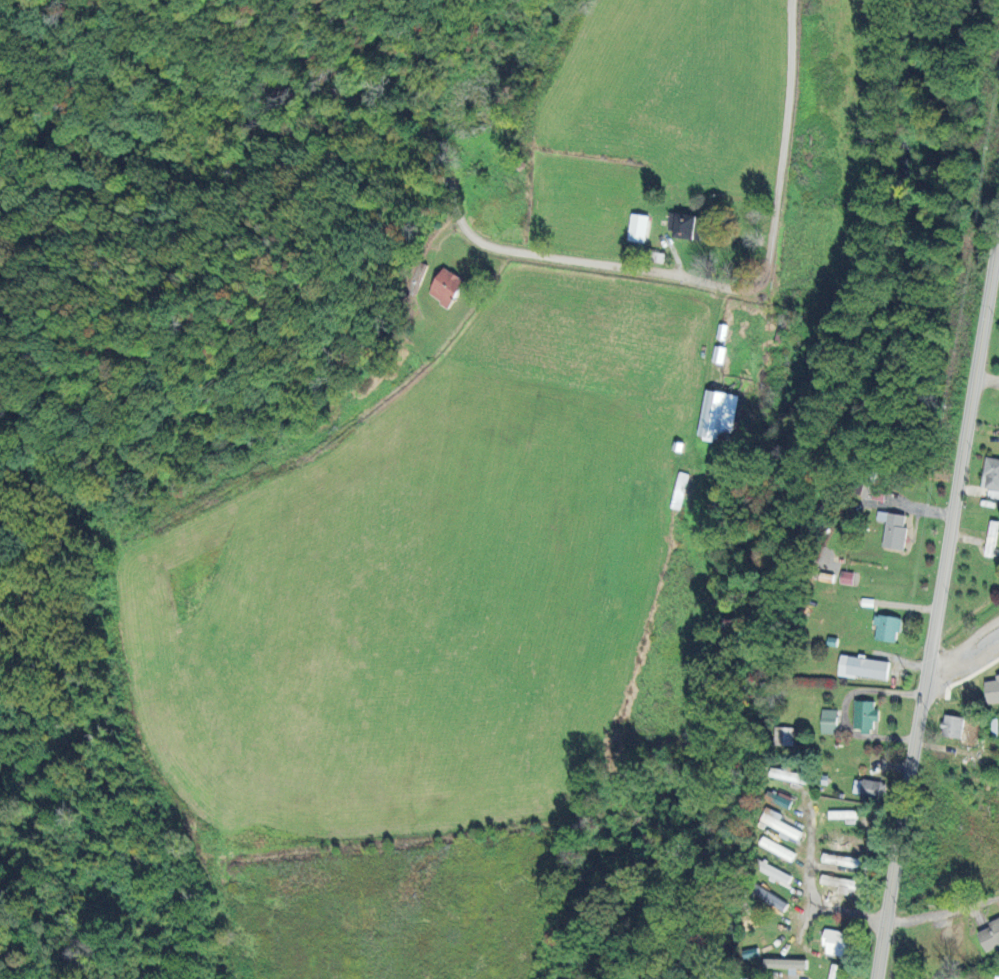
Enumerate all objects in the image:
building: (685, 226)
building: (637, 228)
road: (489, 246)
building: (445, 287)
building: (718, 355)
building: (717, 415)
building: (991, 473)
building: (893, 529)
building: (846, 577)
road: (938, 600)
building: (886, 628)
road: (963, 646)
building: (863, 667)
building: (992, 690)
building: (864, 715)
building: (828, 721)
building: (951, 726)
building: (785, 736)
building: (791, 775)
building: (869, 788)
building: (783, 800)
building: (842, 815)
building: (784, 828)
building: (777, 849)
building: (842, 860)
building: (774, 872)
road: (809, 888)
building: (771, 899)
road: (942, 912)
building: (989, 936)
building: (838, 944)
building: (784, 964)
building: (835, 971)
building: (996, 977)
building: (744, 978)

